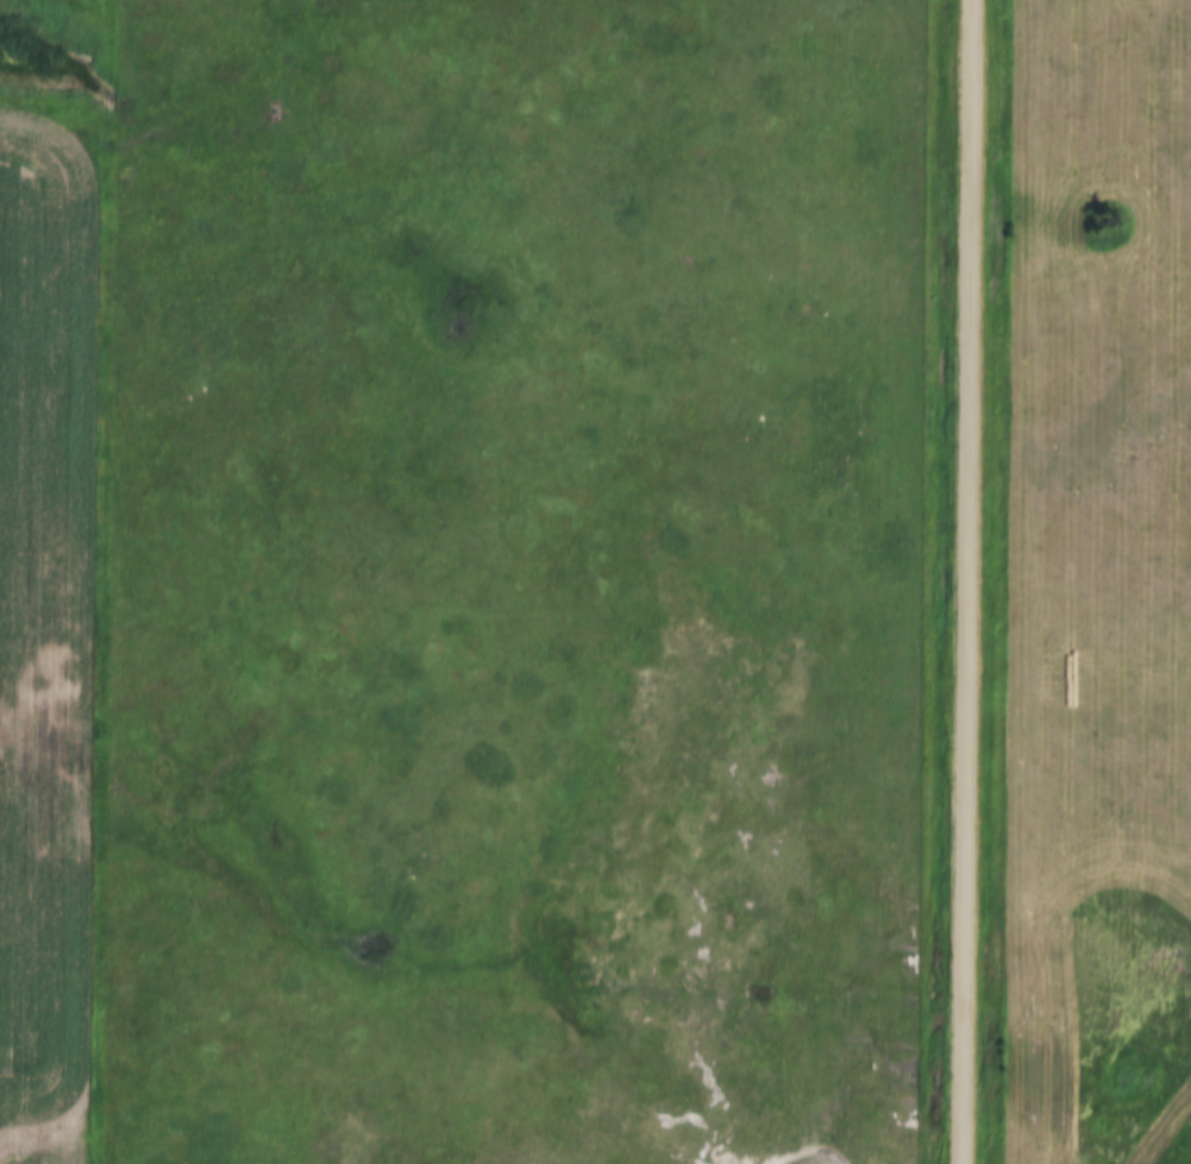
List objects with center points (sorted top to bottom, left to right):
road: (971, 581)

